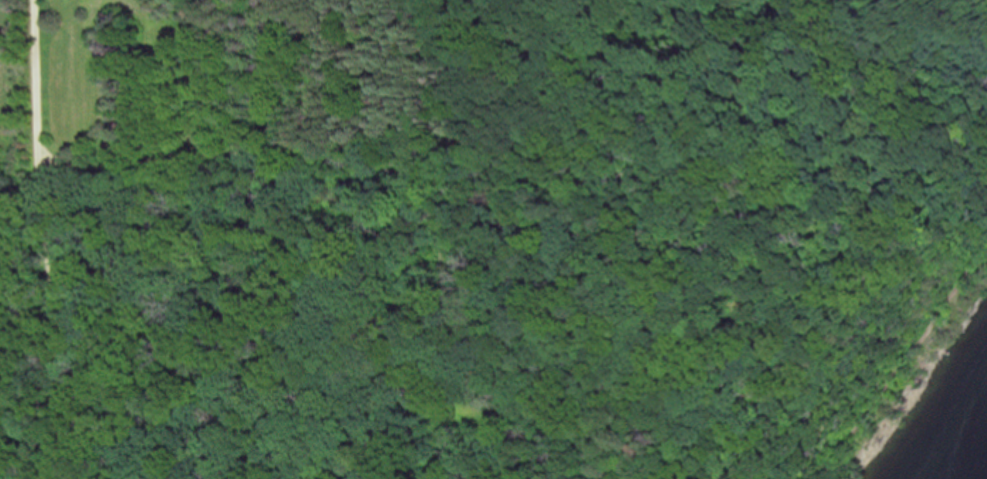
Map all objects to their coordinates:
road: (45, 241)

